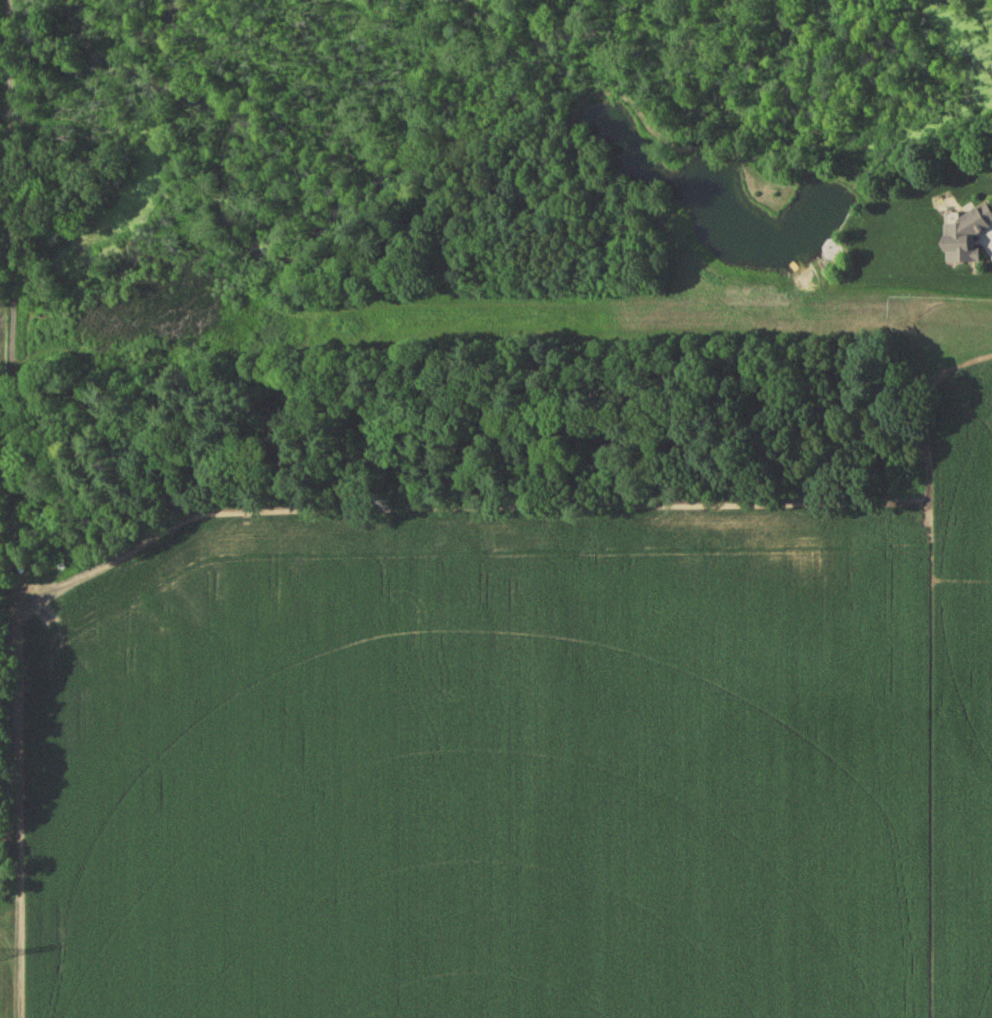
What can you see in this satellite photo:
building: (966, 239)

